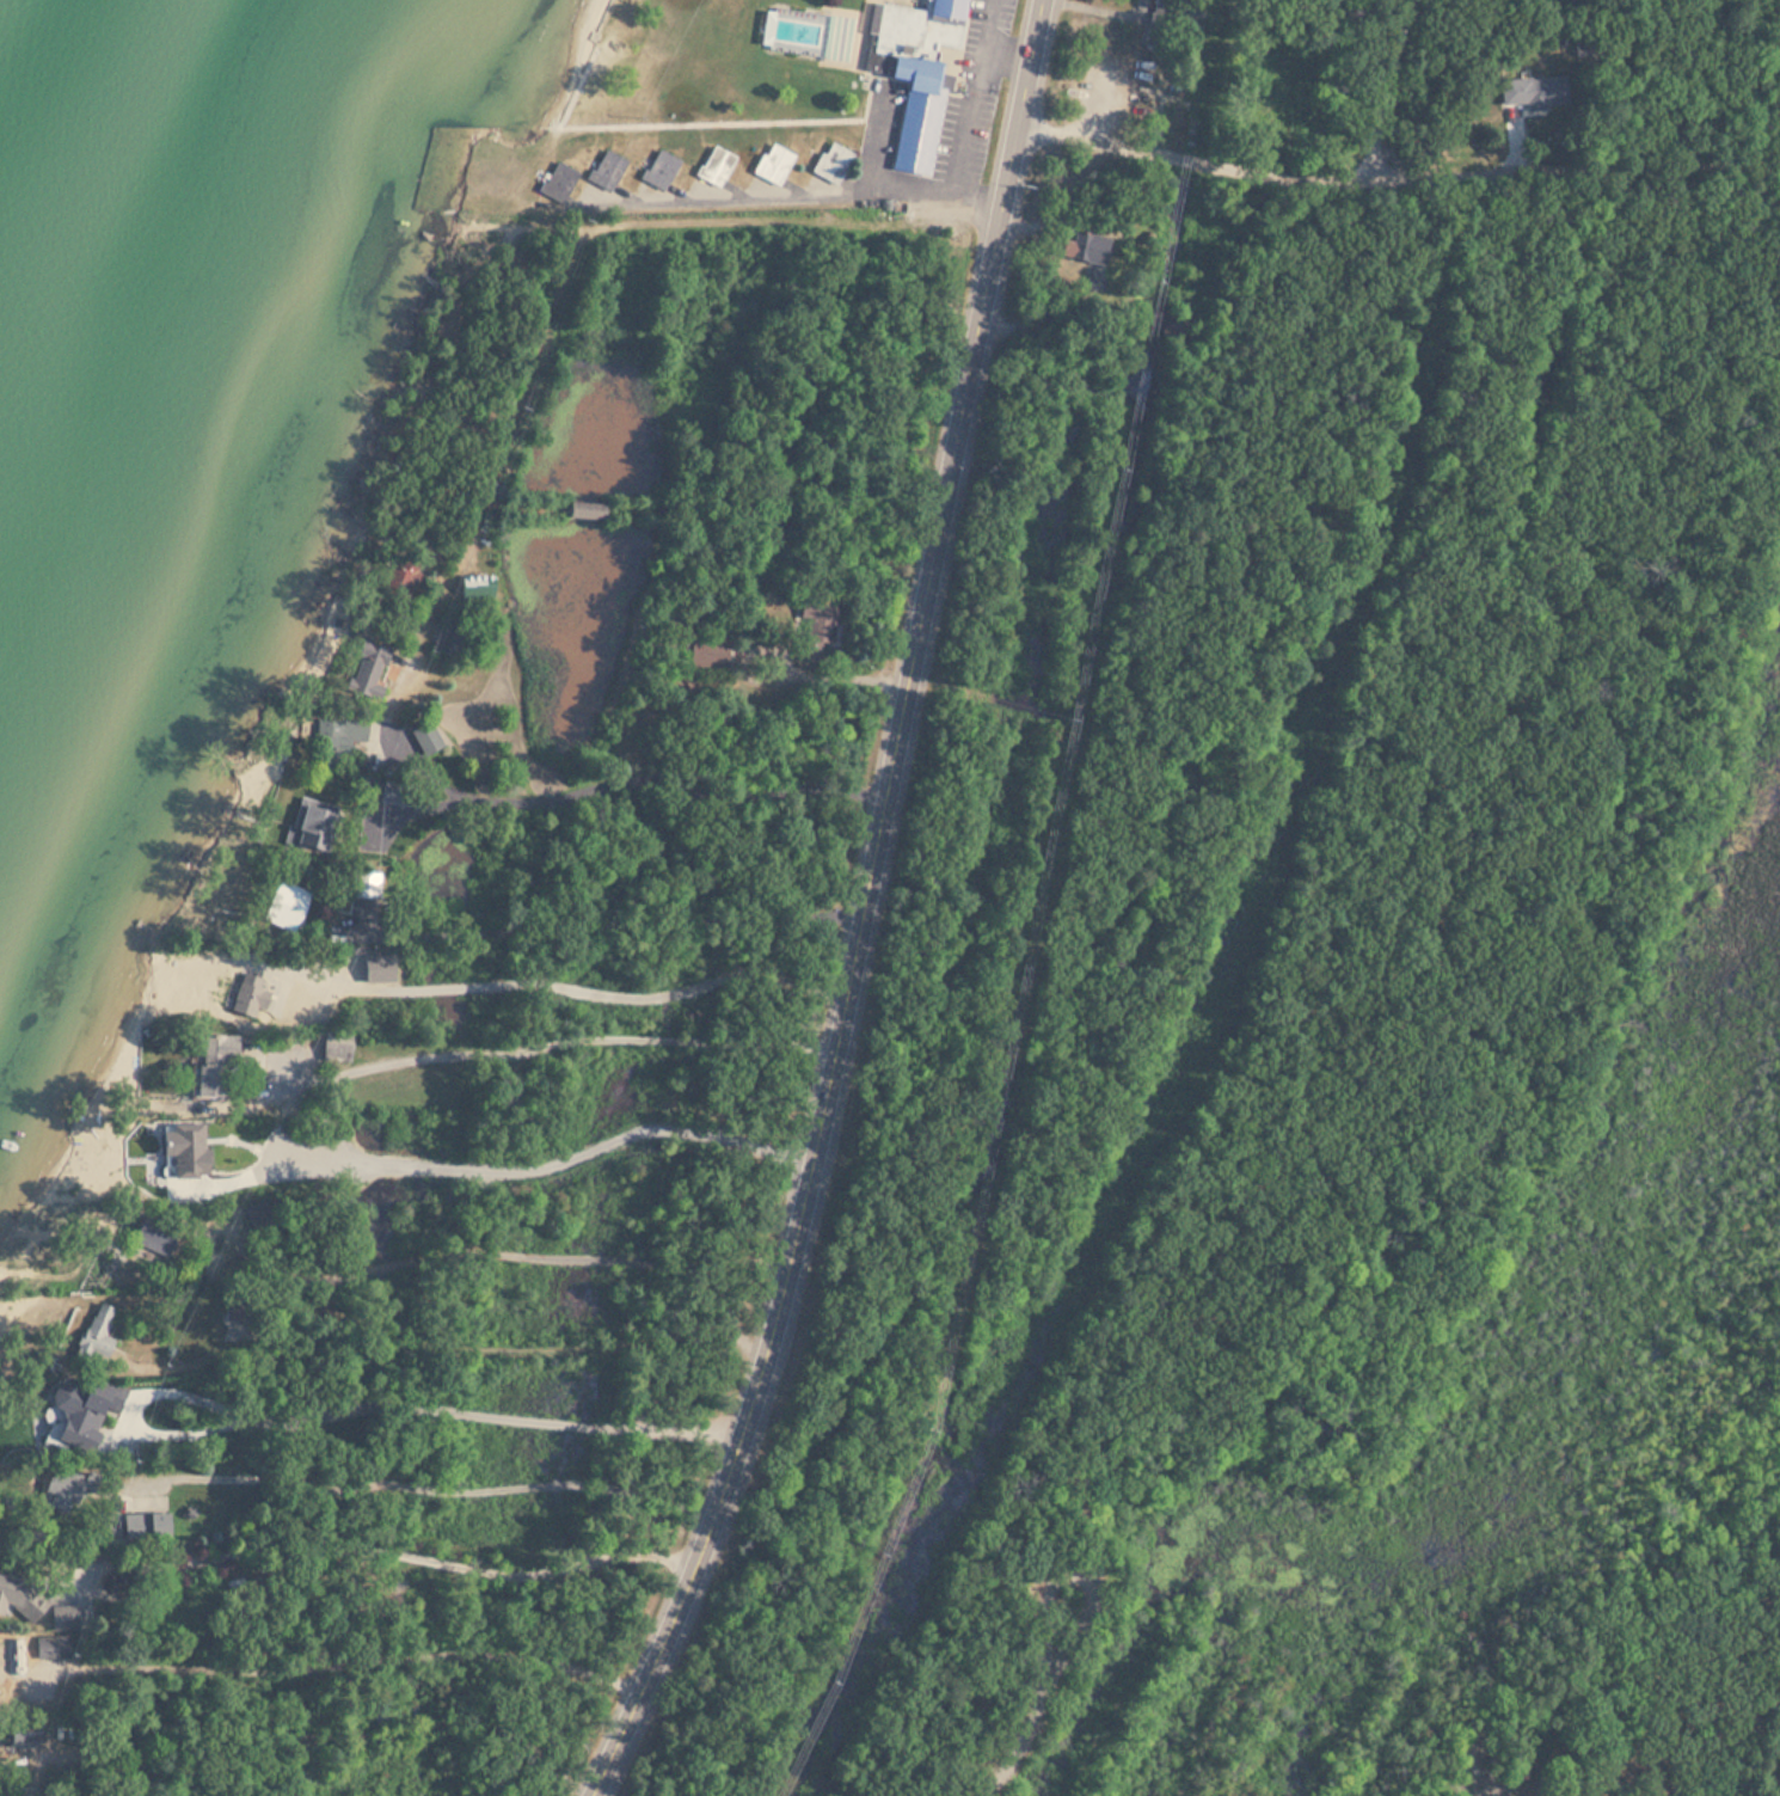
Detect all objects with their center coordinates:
building: (1171, 13)
building: (794, 31)
building: (919, 73)
road: (1216, 76)
road: (1711, 76)
road: (1398, 91)
building: (1536, 92)
building: (833, 163)
building: (774, 164)
building: (716, 167)
building: (607, 171)
building: (662, 171)
road: (1397, 179)
building: (559, 183)
road: (720, 215)
building: (1086, 247)
building: (1160, 317)
road: (845, 323)
road: (499, 424)
building: (583, 509)
building: (400, 577)
building: (817, 630)
building: (449, 638)
building: (706, 651)
building: (367, 668)
building: (338, 736)
building: (428, 737)
road: (616, 774)
building: (312, 825)
road: (403, 890)
building: (287, 906)
road: (863, 912)
road: (559, 974)
road: (455, 1042)
building: (214, 1062)
road: (480, 1197)
building: (153, 1234)
road: (496, 1251)
building: (235, 1324)
building: (98, 1331)
road: (448, 1336)
road: (453, 1415)
building: (66, 1491)
building: (147, 1525)
road: (417, 1555)
building: (12, 1593)
building: (63, 1617)
road: (357, 1660)
road: (1043, 1703)
building: (23, 1734)

